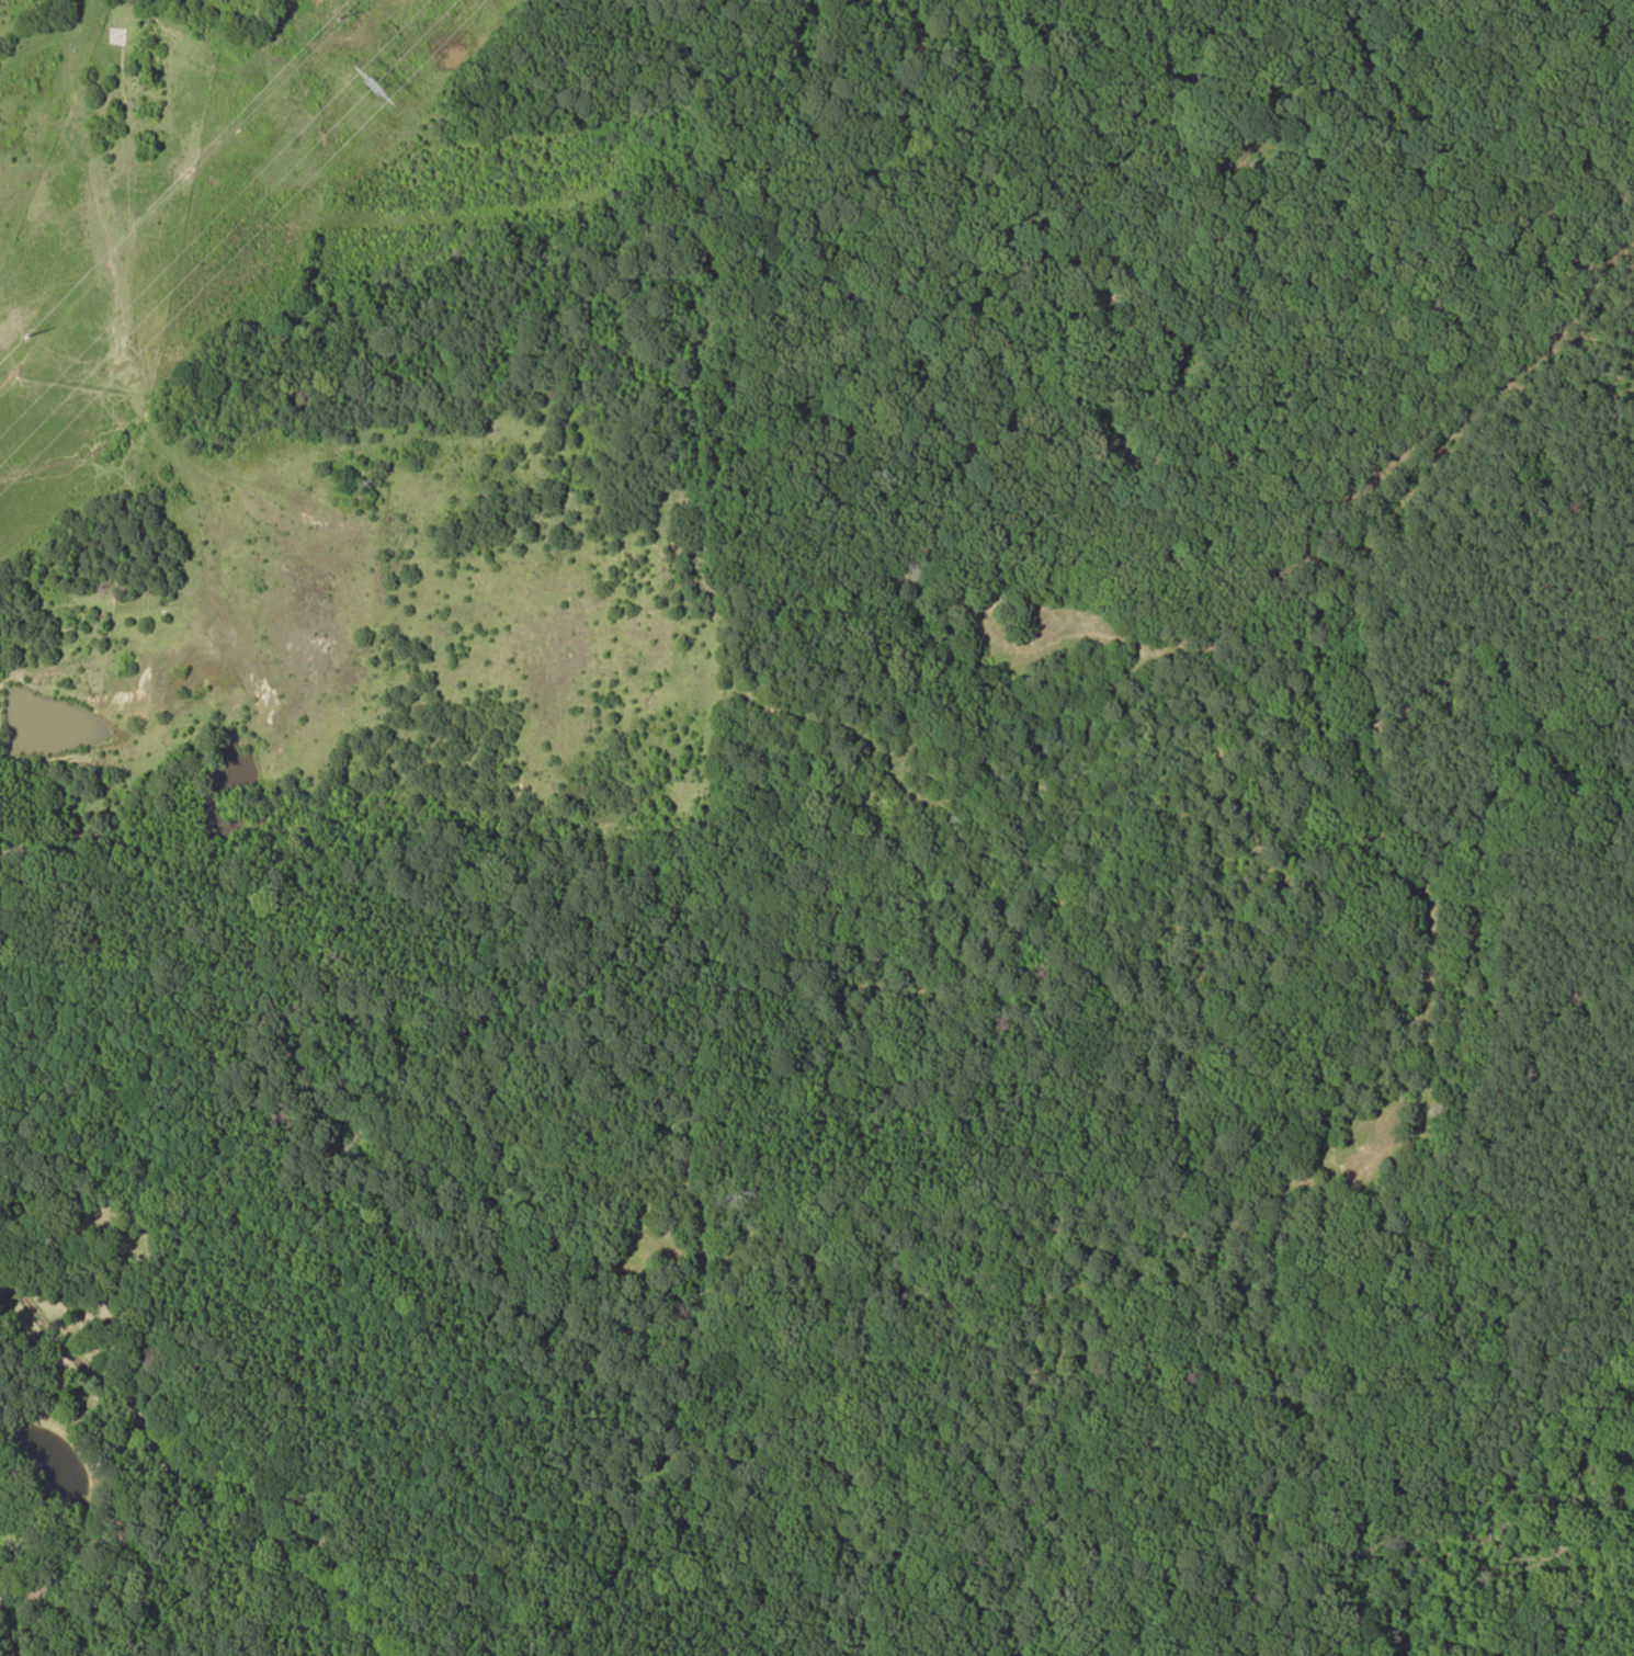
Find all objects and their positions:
road: (110, 44)
power tower: (373, 70)

